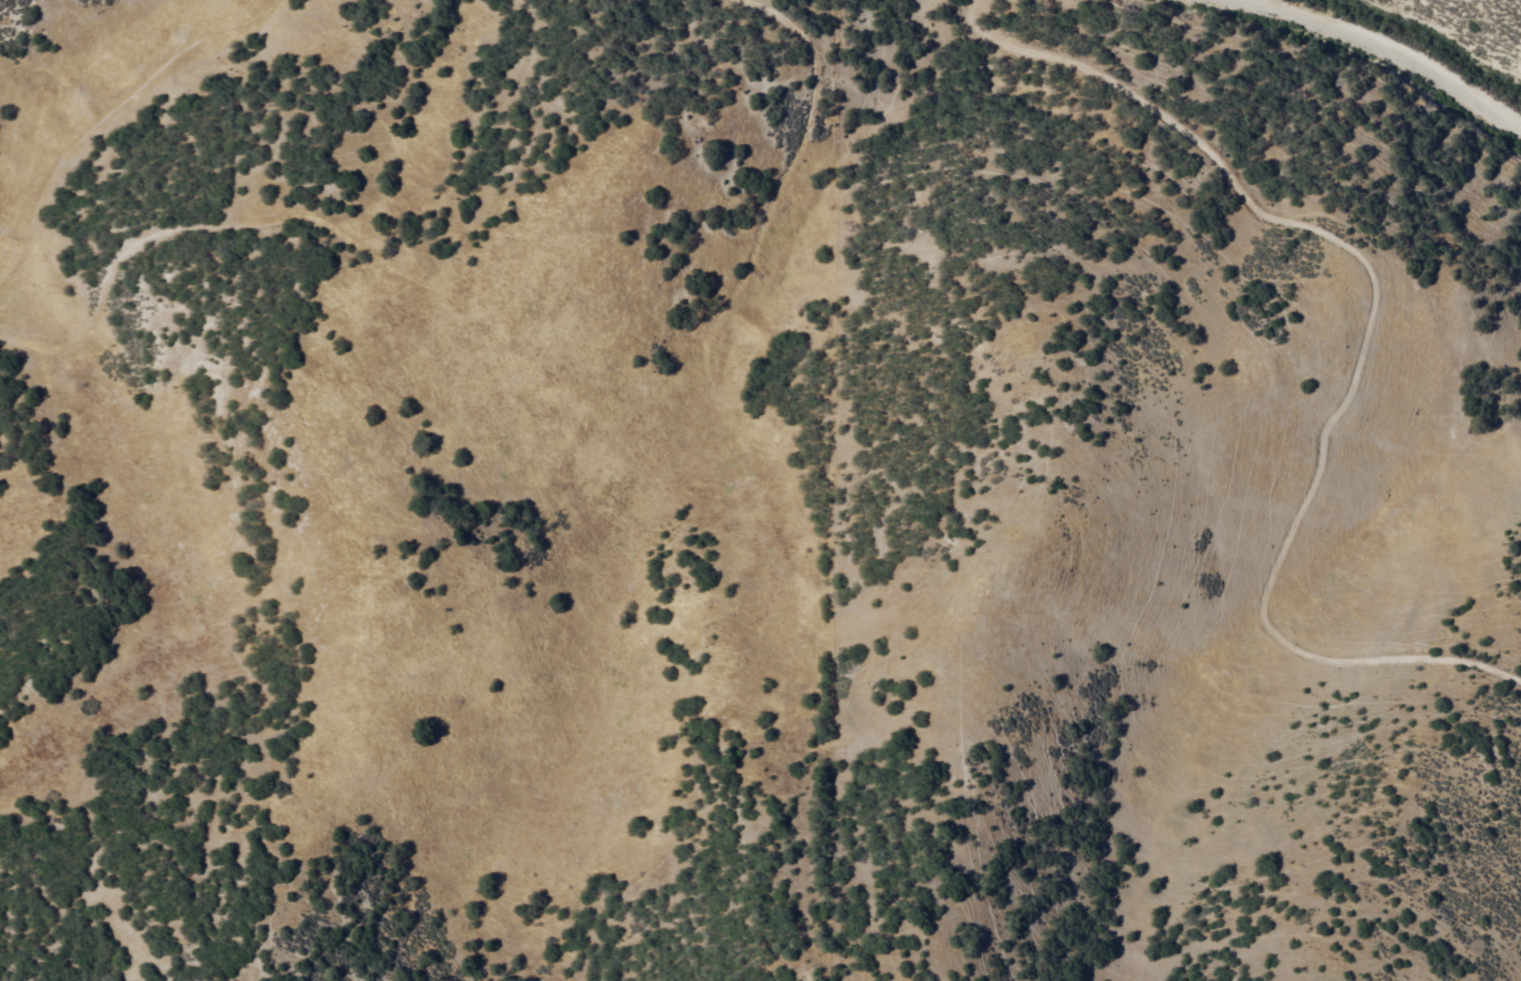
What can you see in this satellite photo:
road: (1373, 51)

